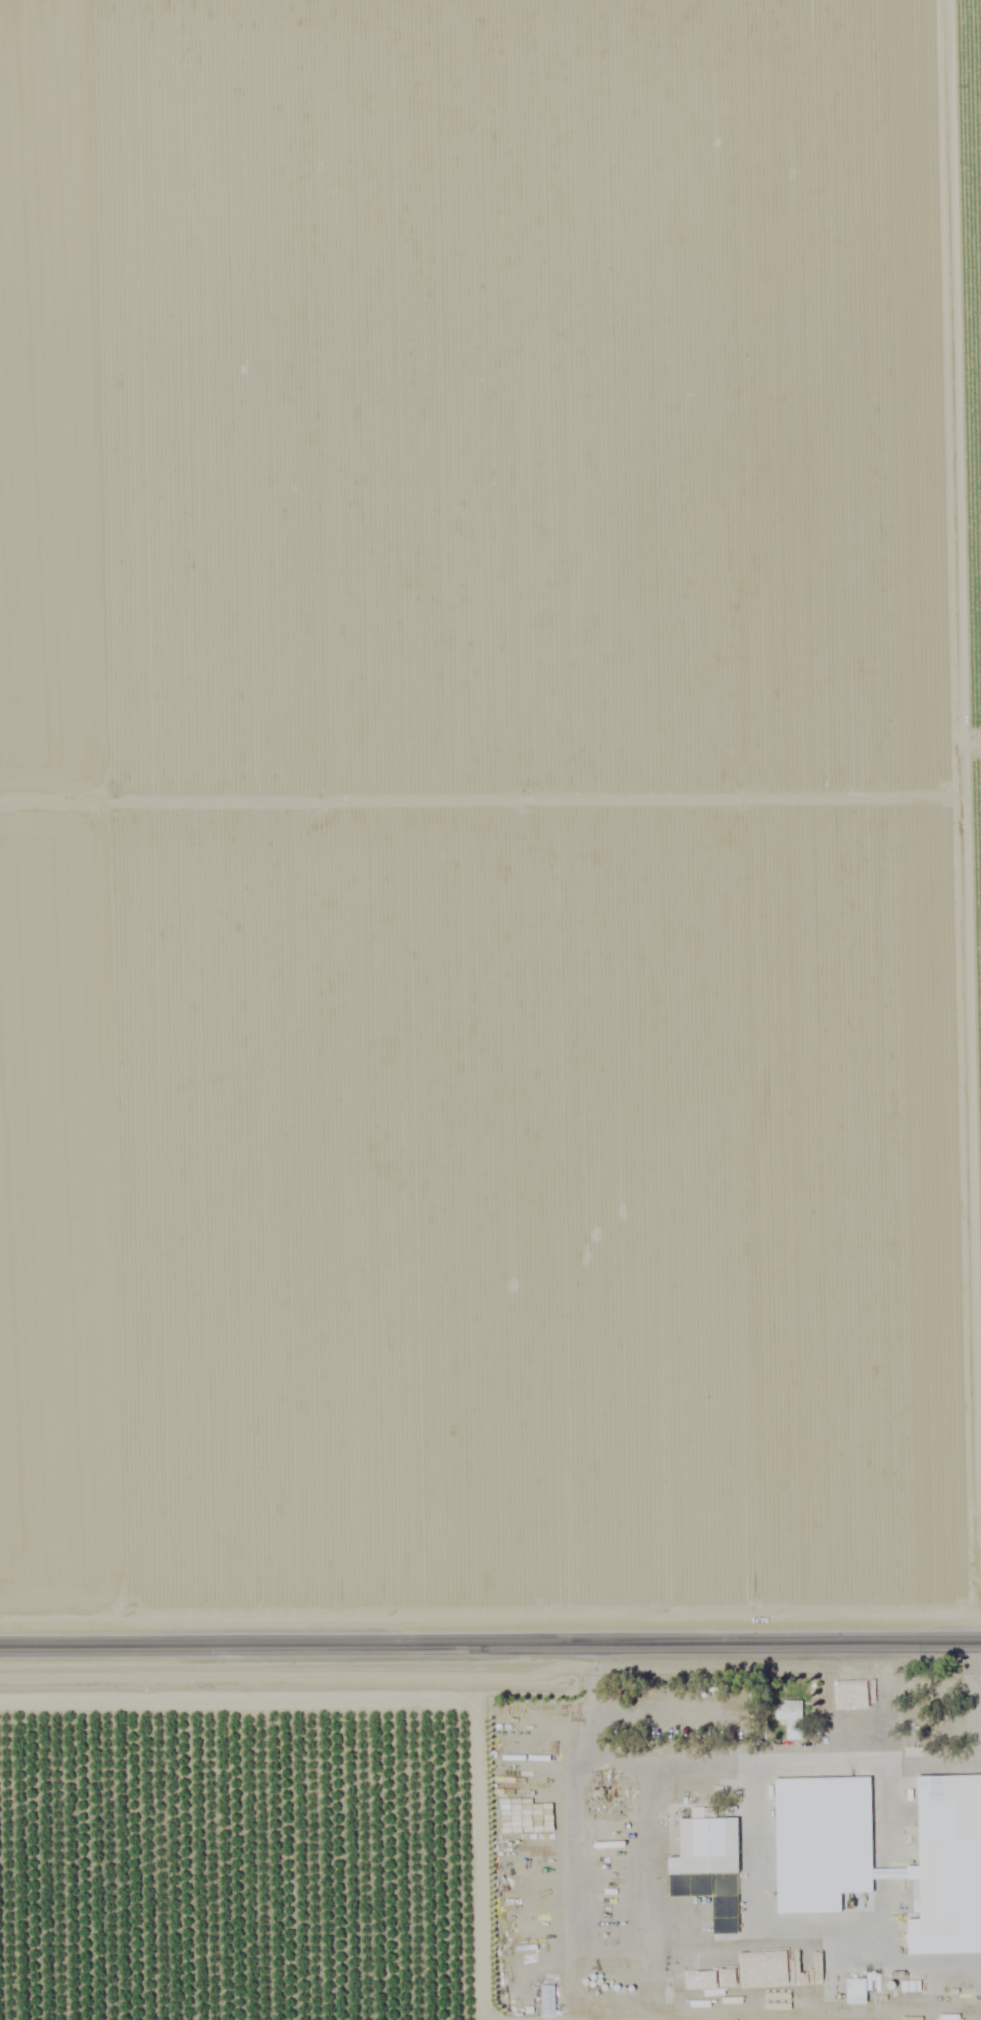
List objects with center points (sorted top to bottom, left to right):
crop: (975, 368)
road: (970, 608)
crop: (487, 810)
road: (490, 1645)
building: (787, 1716)
building: (817, 1839)
building: (703, 1845)
building: (939, 1853)

